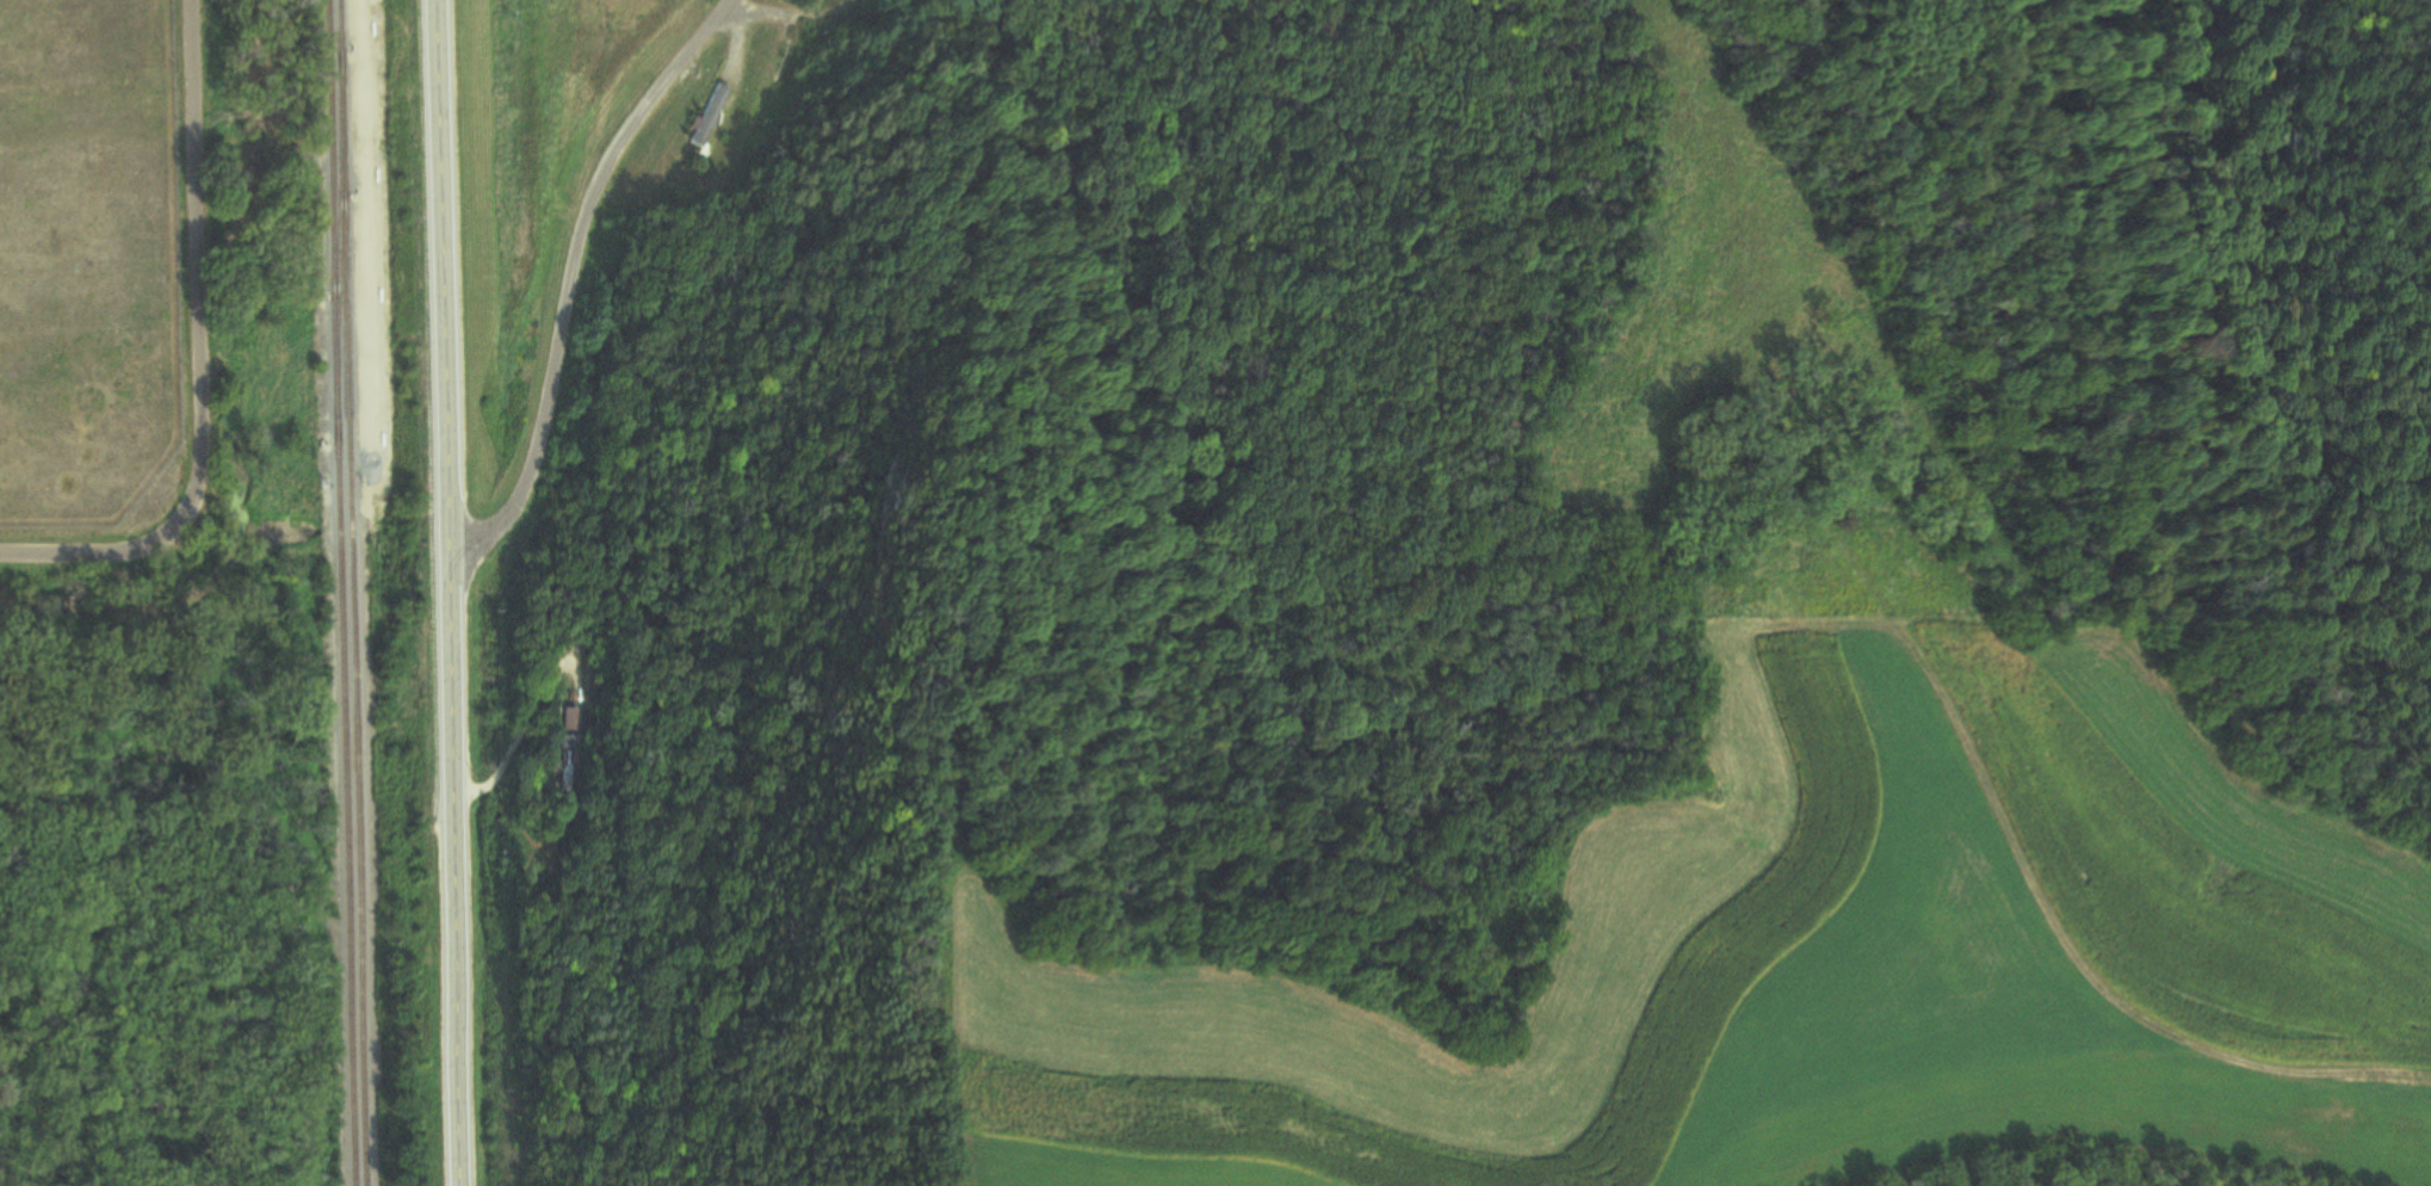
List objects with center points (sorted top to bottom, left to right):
road: (725, 2)
road: (788, 16)
road: (571, 283)
road: (196, 357)
road: (447, 592)
railway: (341, 593)
railway: (353, 593)

